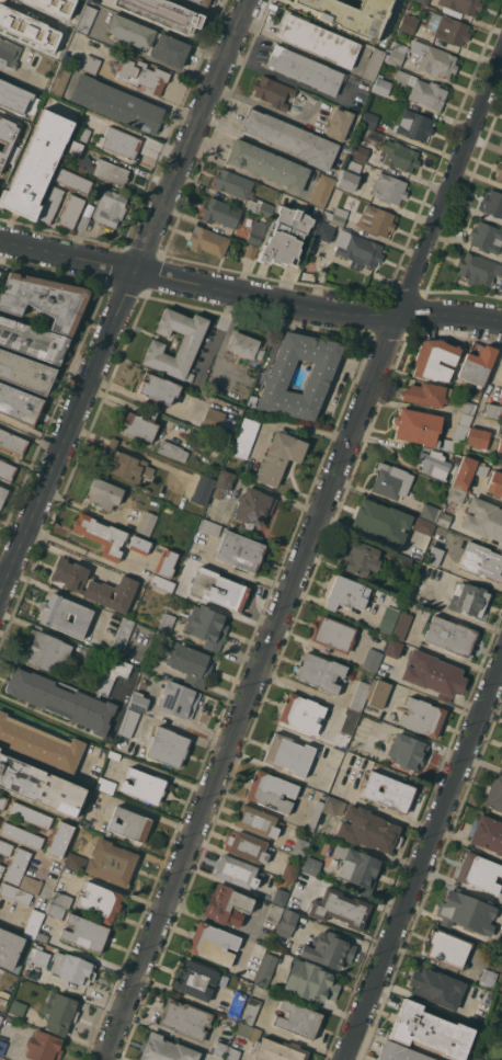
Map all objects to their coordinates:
building: (423, 1)
building: (203, 2)
building: (50, 7)
building: (460, 7)
building: (162, 13)
building: (350, 14)
building: (85, 19)
building: (408, 23)
building: (27, 27)
building: (448, 29)
building: (130, 31)
building: (318, 38)
building: (170, 49)
building: (9, 54)
building: (397, 54)
building: (434, 59)
building: (88, 62)
building: (374, 65)
road: (261, 68)
building: (305, 69)
building: (140, 75)
building: (60, 79)
building: (380, 87)
building: (422, 90)
building: (272, 92)
building: (16, 99)
road: (149, 99)
building: (116, 103)
building: (369, 119)
building: (339, 123)
building: (414, 125)
building: (82, 134)
road: (135, 135)
building: (7, 137)
building: (290, 137)
building: (119, 141)
building: (76, 147)
building: (358, 152)
building: (13, 153)
building: (400, 156)
building: (35, 164)
building: (267, 164)
building: (82, 169)
building: (499, 171)
building: (111, 172)
building: (349, 175)
building: (72, 180)
building: (389, 189)
building: (241, 191)
building: (321, 191)
building: (493, 203)
building: (49, 205)
building: (109, 207)
building: (71, 210)
building: (220, 213)
building: (84, 216)
building: (335, 216)
building: (376, 220)
building: (324, 230)
building: (255, 233)
building: (287, 237)
building: (486, 237)
building: (207, 241)
building: (357, 250)
building: (250, 251)
road: (67, 253)
building: (478, 269)
building: (309, 276)
road: (123, 295)
building: (44, 298)
road: (316, 308)
building: (32, 340)
building: (244, 345)
building: (186, 347)
building: (434, 360)
building: (477, 364)
building: (25, 372)
building: (319, 376)
building: (501, 377)
building: (158, 388)
building: (425, 392)
building: (19, 403)
building: (494, 408)
building: (212, 419)
building: (139, 425)
building: (418, 426)
building: (459, 429)
road: (31, 430)
road: (30, 436)
building: (476, 437)
building: (243, 438)
building: (12, 442)
building: (500, 443)
building: (172, 451)
building: (279, 456)
building: (124, 463)
building: (432, 463)
building: (5, 469)
building: (467, 471)
building: (391, 481)
building: (221, 483)
building: (494, 483)
building: (202, 490)
building: (2, 493)
building: (103, 493)
building: (456, 494)
building: (253, 506)
building: (430, 512)
building: (444, 518)
building: (483, 520)
building: (380, 521)
building: (147, 523)
building: (423, 525)
building: (209, 527)
building: (101, 535)
building: (139, 545)
building: (239, 550)
building: (418, 551)
road: (301, 555)
building: (435, 556)
building: (360, 558)
building: (482, 561)
building: (166, 562)
building: (161, 582)
building: (94, 585)
building: (217, 589)
building: (346, 593)
road: (68, 595)
building: (467, 599)
building: (64, 614)
building: (388, 619)
building: (166, 623)
building: (401, 625)
building: (206, 626)
building: (123, 632)
building: (332, 635)
building: (450, 636)
building: (393, 648)
building: (46, 651)
building: (92, 658)
building: (372, 659)
building: (187, 662)
building: (319, 672)
building: (433, 674)
building: (379, 694)
building: (69, 695)
building: (360, 695)
building: (178, 699)
building: (138, 702)
building: (301, 713)
building: (422, 716)
building: (350, 720)
building: (128, 722)
building: (39, 743)
building: (167, 746)
building: (408, 751)
building: (288, 754)
building: (114, 755)
building: (501, 759)
building: (105, 785)
building: (144, 785)
building: (39, 786)
building: (271, 791)
building: (388, 791)
building: (494, 794)
building: (2, 802)
building: (332, 806)
building: (30, 814)
building: (313, 814)
building: (255, 821)
building: (84, 823)
building: (129, 824)
building: (368, 830)
building: (488, 833)
building: (21, 834)
building: (59, 840)
building: (247, 846)
building: (299, 846)
building: (5, 847)
road: (421, 856)
building: (76, 862)
building: (111, 862)
building: (0, 863)
building: (16, 865)
building: (311, 866)
building: (357, 868)
building: (1, 869)
building: (235, 871)
building: (289, 871)
building: (479, 871)
building: (300, 882)
building: (31, 884)
building: (15, 893)
building: (279, 897)
building: (61, 899)
building: (100, 901)
building: (295, 902)
building: (227, 904)
building: (340, 908)
building: (56, 910)
building: (274, 912)
building: (467, 912)
building: (286, 922)
building: (33, 923)
building: (84, 933)
building: (42, 937)
building: (213, 943)
building: (9, 948)
building: (446, 948)
building: (328, 949)
building: (38, 956)
building: (76, 969)
building: (266, 969)
building: (488, 978)
building: (194, 979)
building: (310, 981)
building: (436, 987)
building: (500, 987)
building: (491, 994)
building: (236, 1004)
building: (18, 1007)
building: (250, 1011)
building: (58, 1012)
building: (297, 1018)
building: (184, 1019)
building: (430, 1030)
building: (248, 1031)
building: (2, 1046)
building: (43, 1046)
building: (166, 1049)
building: (219, 1049)
building: (278, 1050)
building: (399, 1052)
building: (231, 1053)
building: (477, 1058)
building: (225, 1059)

